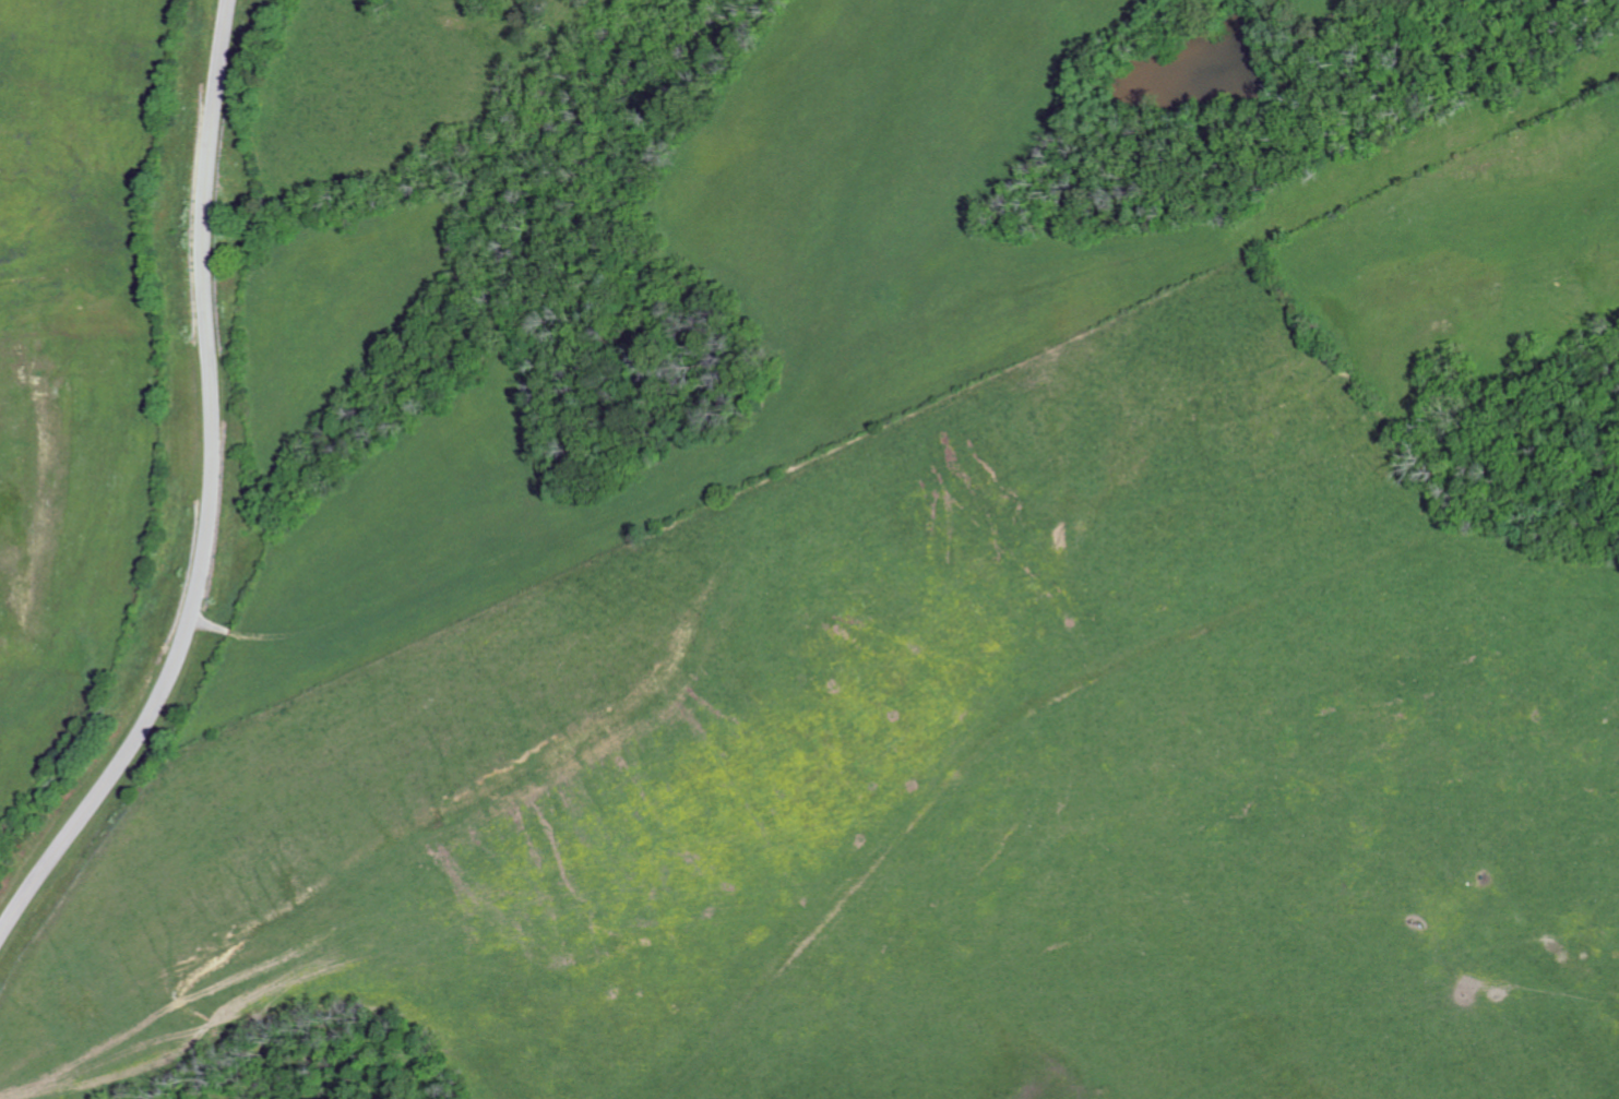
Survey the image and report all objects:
road: (213, 495)

